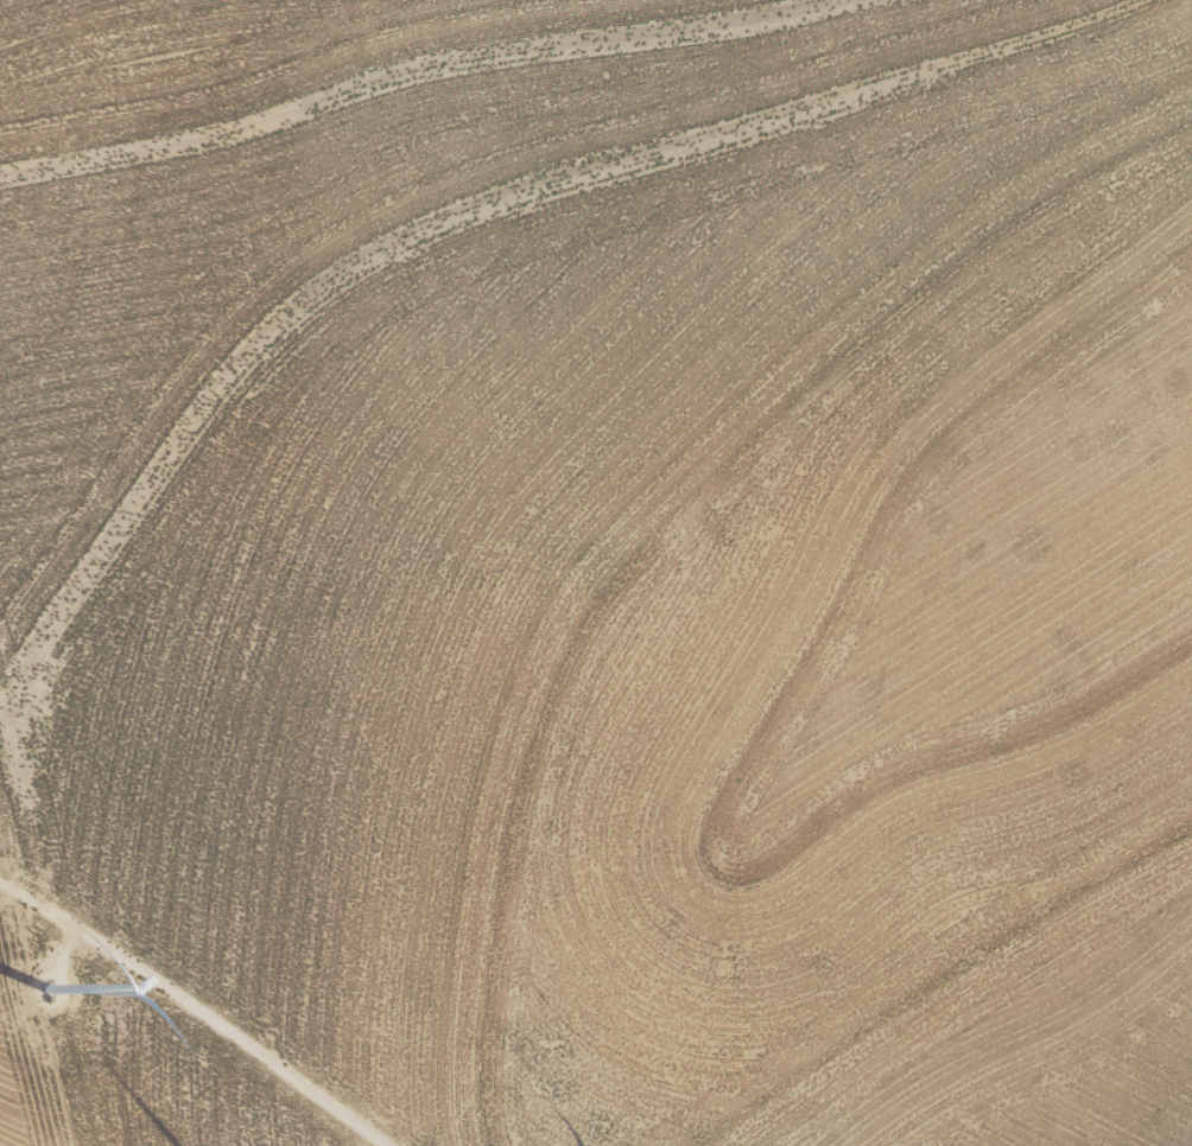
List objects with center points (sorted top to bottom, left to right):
wind turbine: (52, 956)

